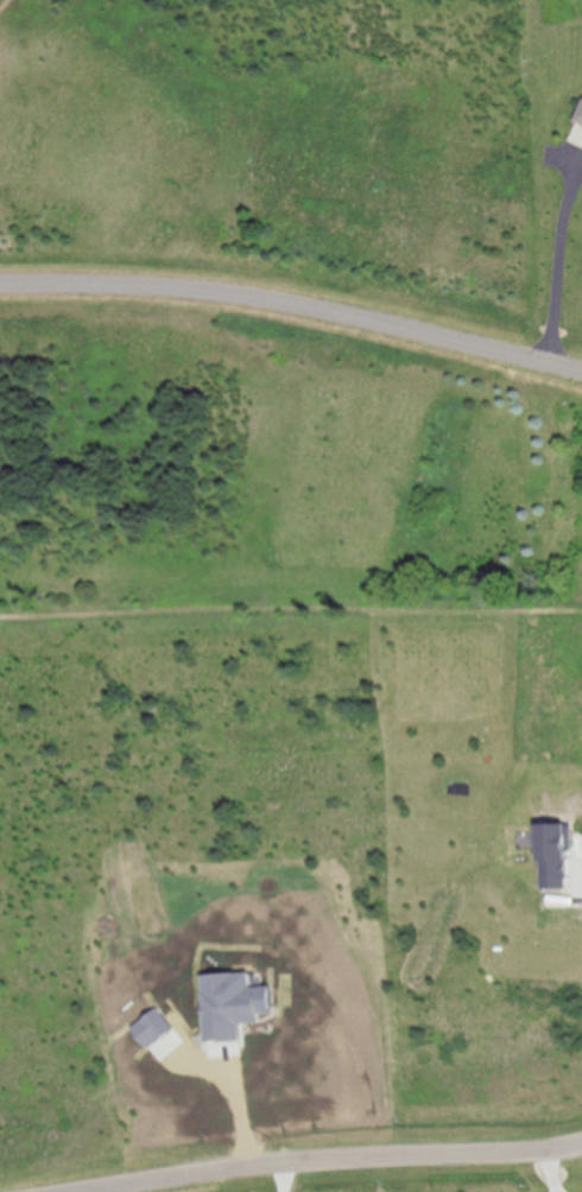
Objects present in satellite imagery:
road: (562, 259)
road: (293, 306)
road: (308, 1161)
road: (284, 1177)

